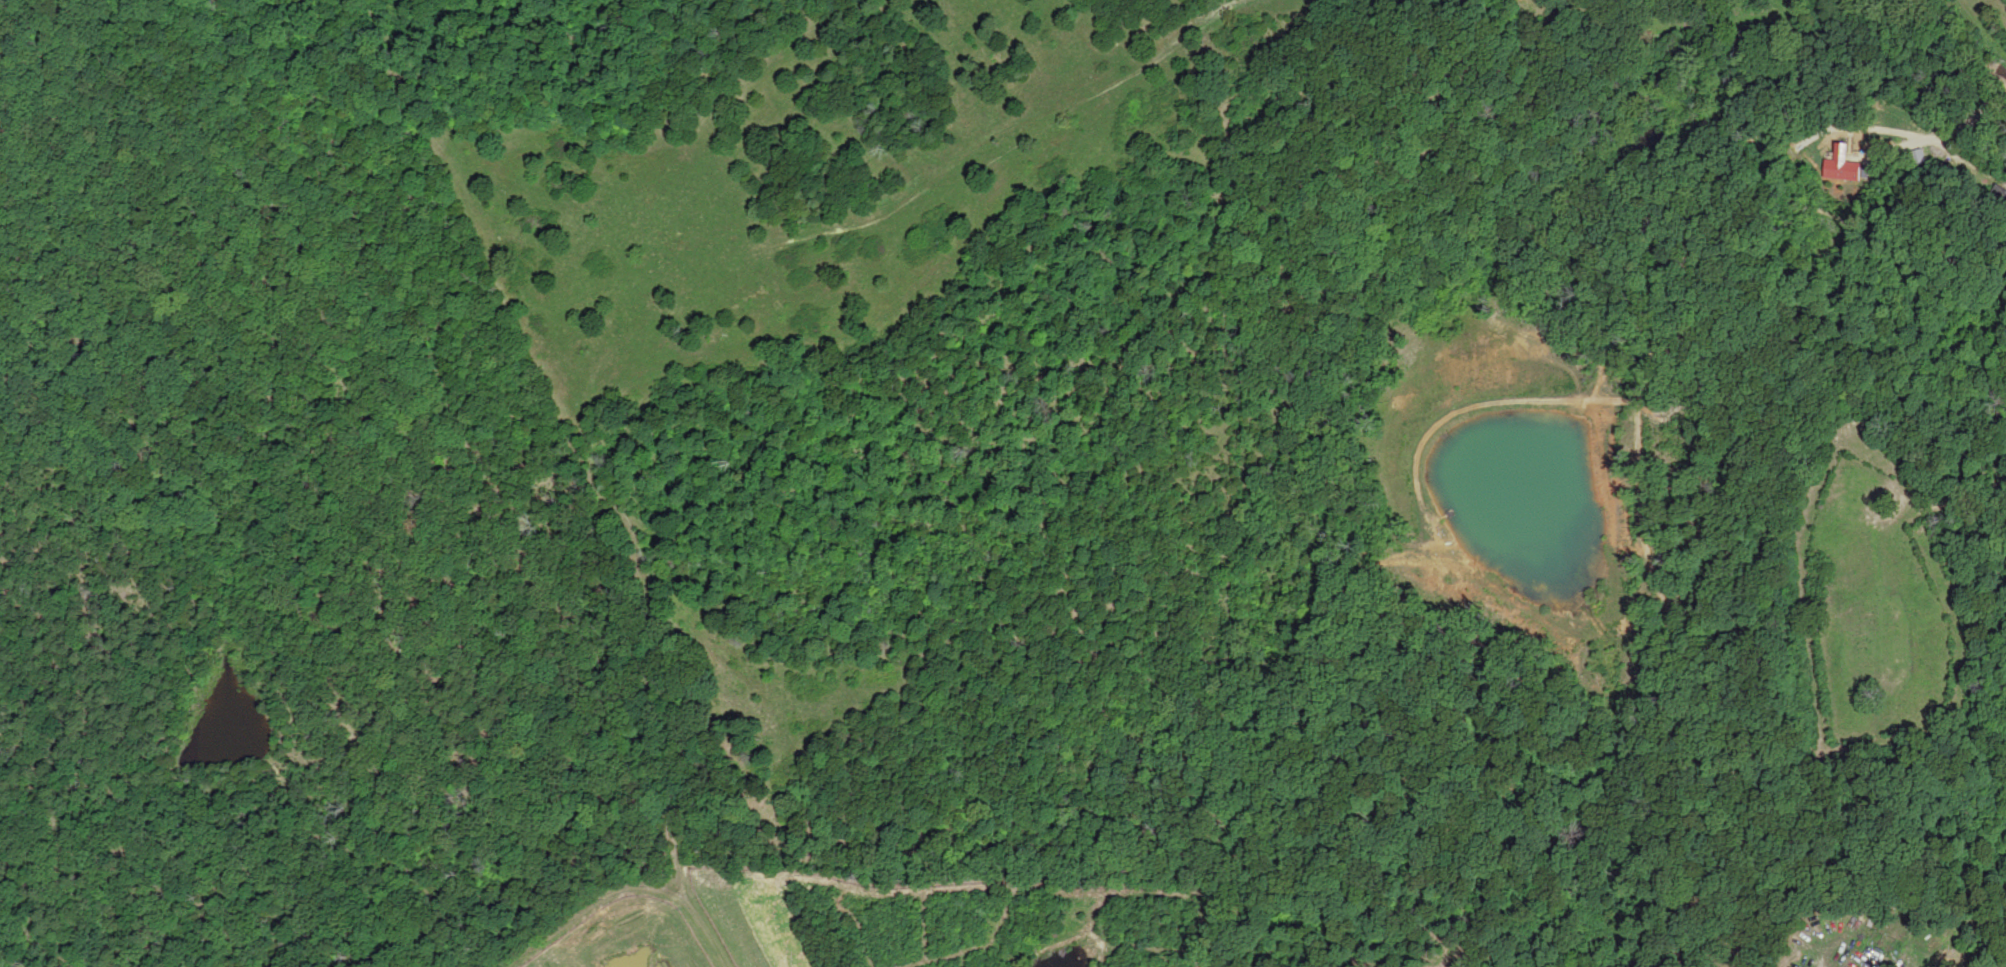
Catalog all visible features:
building: (1843, 170)
road: (507, 497)
road: (357, 571)
building: (670, 922)
road: (1693, 922)
road: (172, 942)

